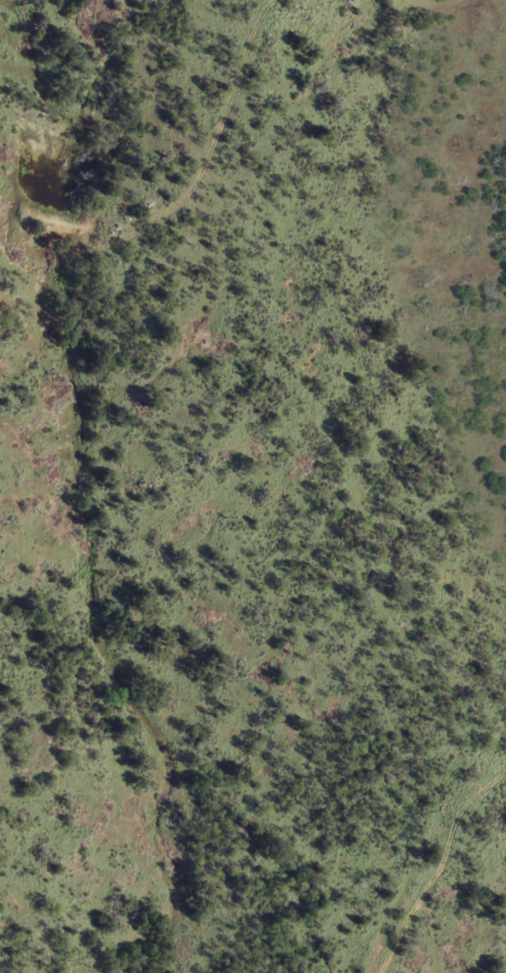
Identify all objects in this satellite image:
road: (437, 4)
road: (184, 199)
road: (441, 866)

